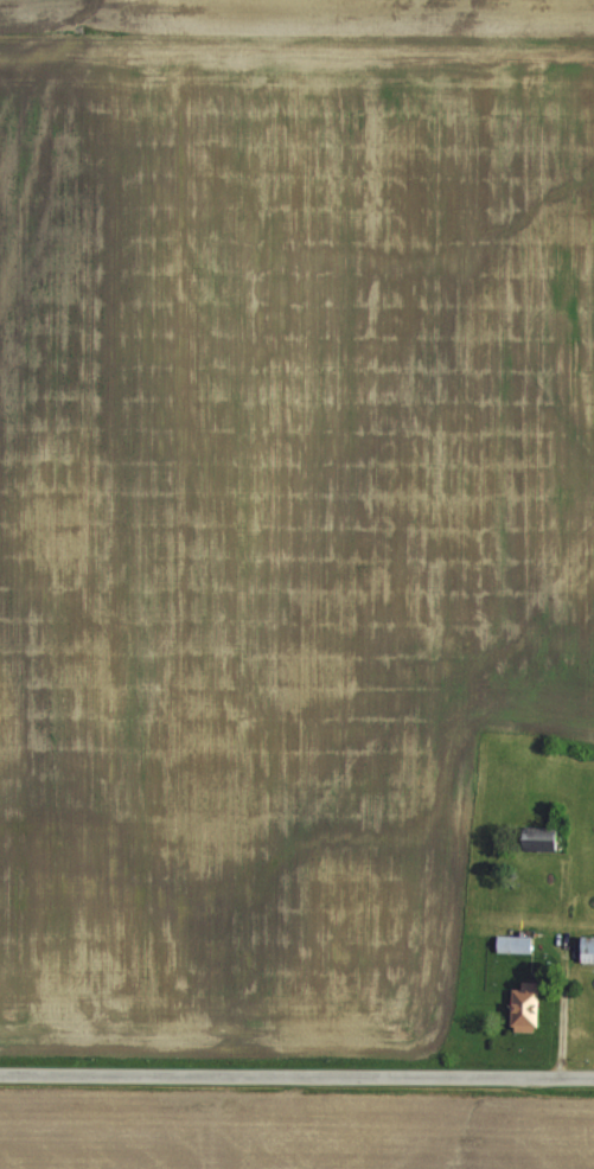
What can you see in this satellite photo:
building: (511, 941)
building: (587, 946)
building: (524, 1004)
road: (296, 1056)

